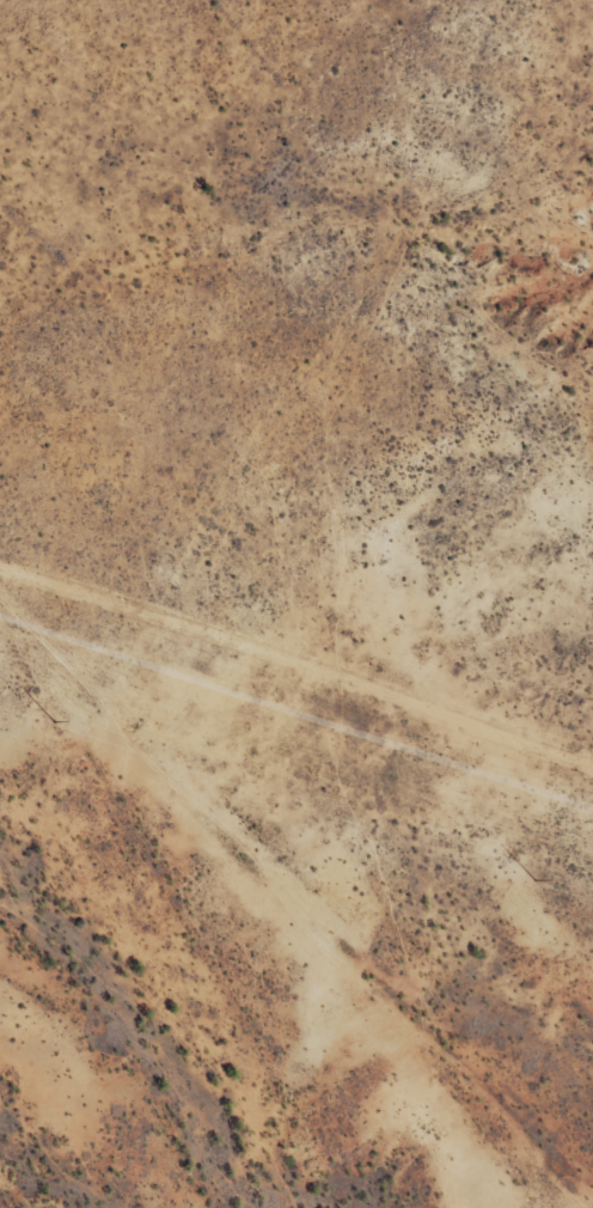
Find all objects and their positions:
power tower: (54, 721)
power tower: (534, 880)

